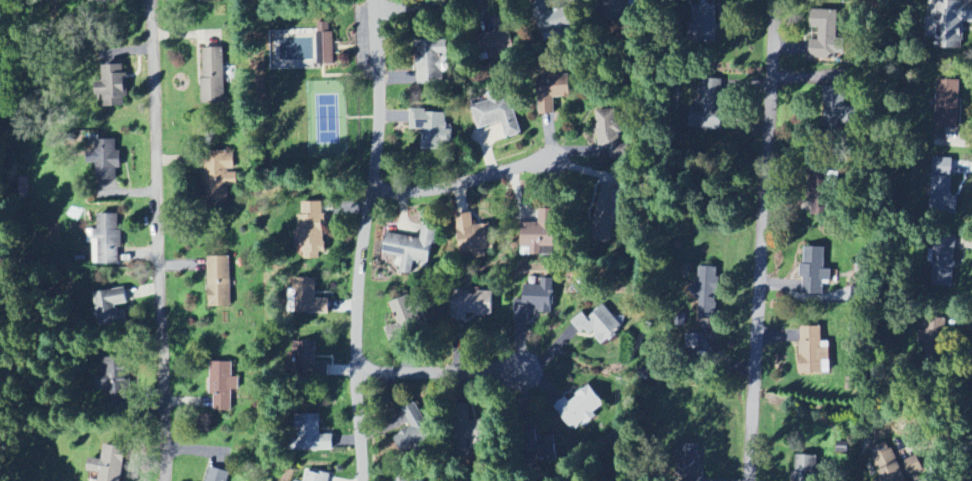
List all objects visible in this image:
building: (105, 0)
building: (207, 0)
road: (405, 6)
building: (620, 7)
building: (705, 23)
building: (948, 23)
building: (826, 36)
building: (499, 40)
building: (325, 50)
building: (430, 61)
building: (213, 75)
building: (113, 85)
building: (552, 90)
building: (948, 103)
building: (709, 106)
building: (838, 109)
building: (498, 116)
park: (307, 118)
building: (432, 129)
building: (610, 134)
building: (105, 159)
building: (219, 178)
road: (459, 181)
building: (942, 185)
building: (819, 192)
building: (606, 214)
building: (311, 230)
building: (540, 235)
building: (473, 238)
building: (107, 240)
road: (156, 240)
road: (364, 240)
road: (772, 241)
building: (411, 248)
building: (943, 265)
building: (814, 271)
building: (219, 282)
building: (706, 293)
building: (534, 301)
building: (471, 305)
building: (112, 307)
building: (404, 317)
building: (598, 324)
building: (700, 344)
building: (812, 351)
building: (308, 361)
road: (443, 373)
building: (222, 385)
building: (579, 408)
building: (413, 431)
building: (311, 434)
building: (688, 460)
building: (109, 464)
building: (894, 464)
building: (216, 475)
building: (315, 476)

